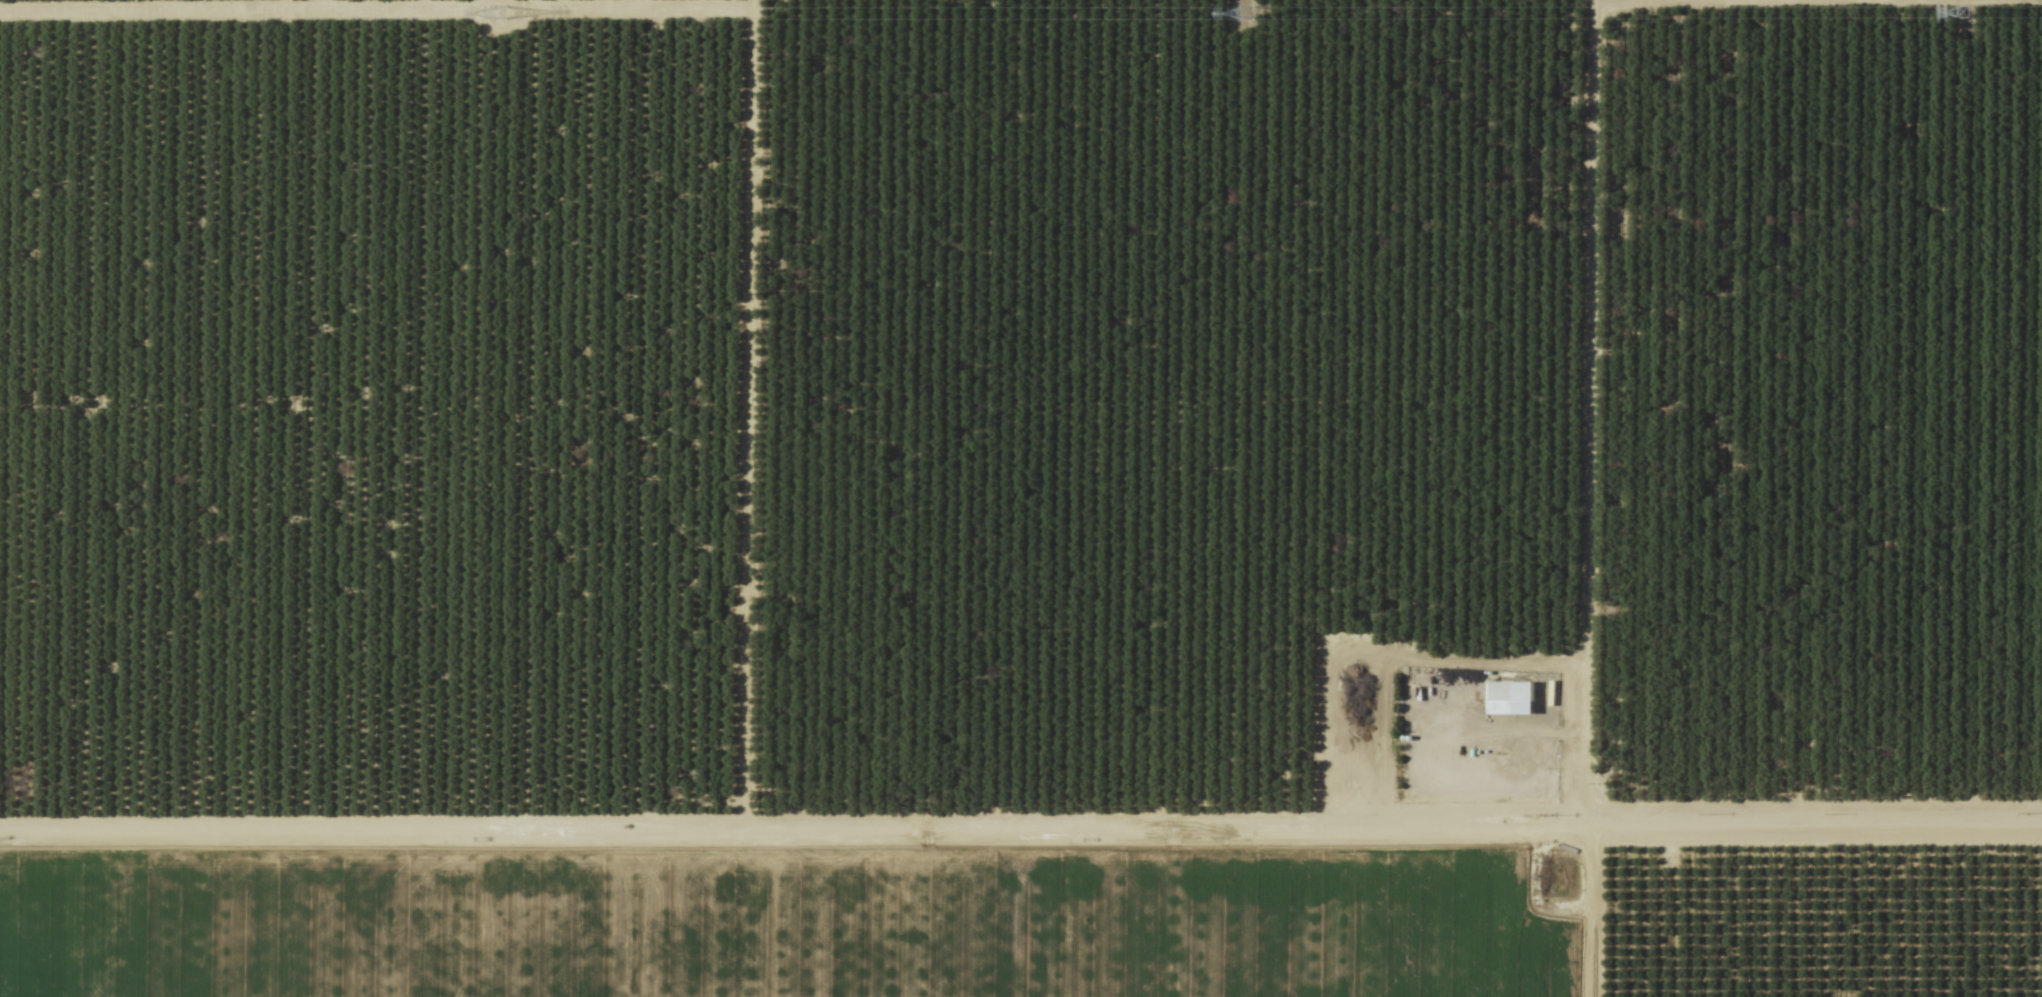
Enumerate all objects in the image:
building: (1508, 693)
road: (1021, 833)
crop: (788, 923)

